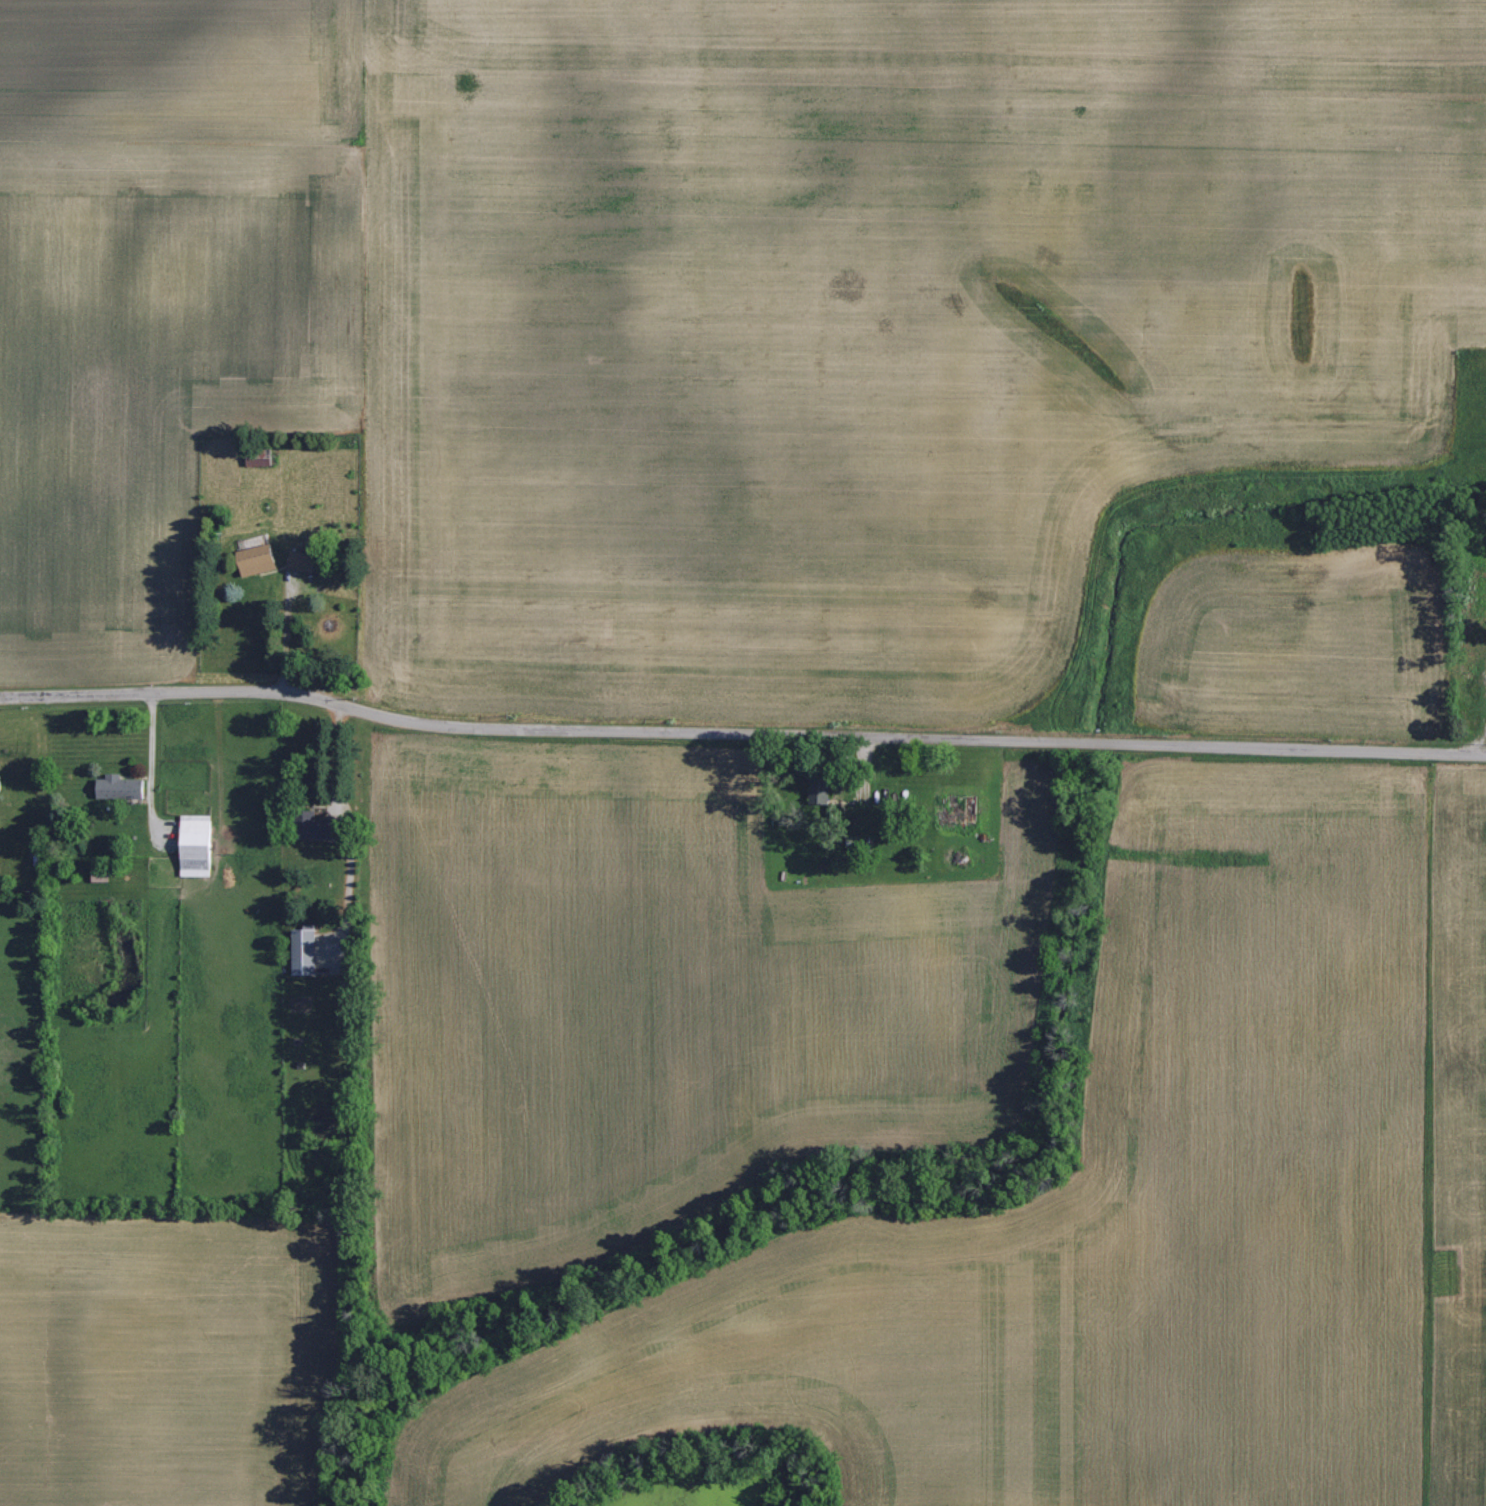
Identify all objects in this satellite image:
building: (258, 559)
building: (302, 560)
road: (281, 628)
road: (740, 728)
road: (152, 746)
road: (331, 759)
building: (121, 787)
building: (820, 791)
building: (319, 827)
building: (196, 845)
building: (100, 876)
building: (305, 949)

